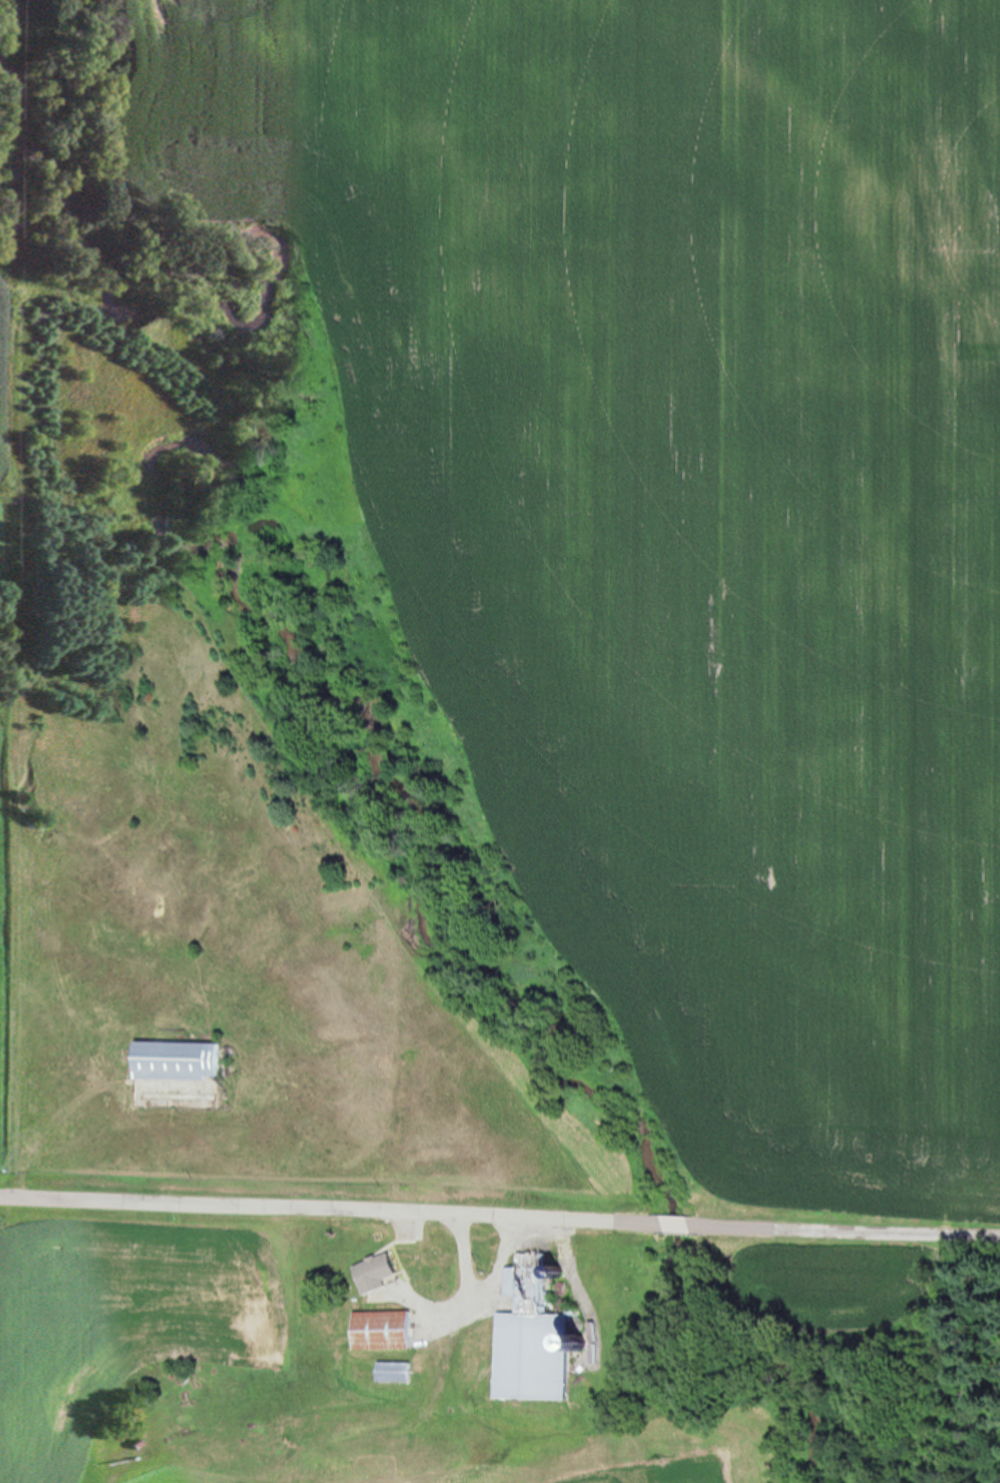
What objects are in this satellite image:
building: (188, 1060)
road: (500, 1230)
building: (383, 1271)
building: (387, 1329)
building: (537, 1334)
building: (398, 1371)

